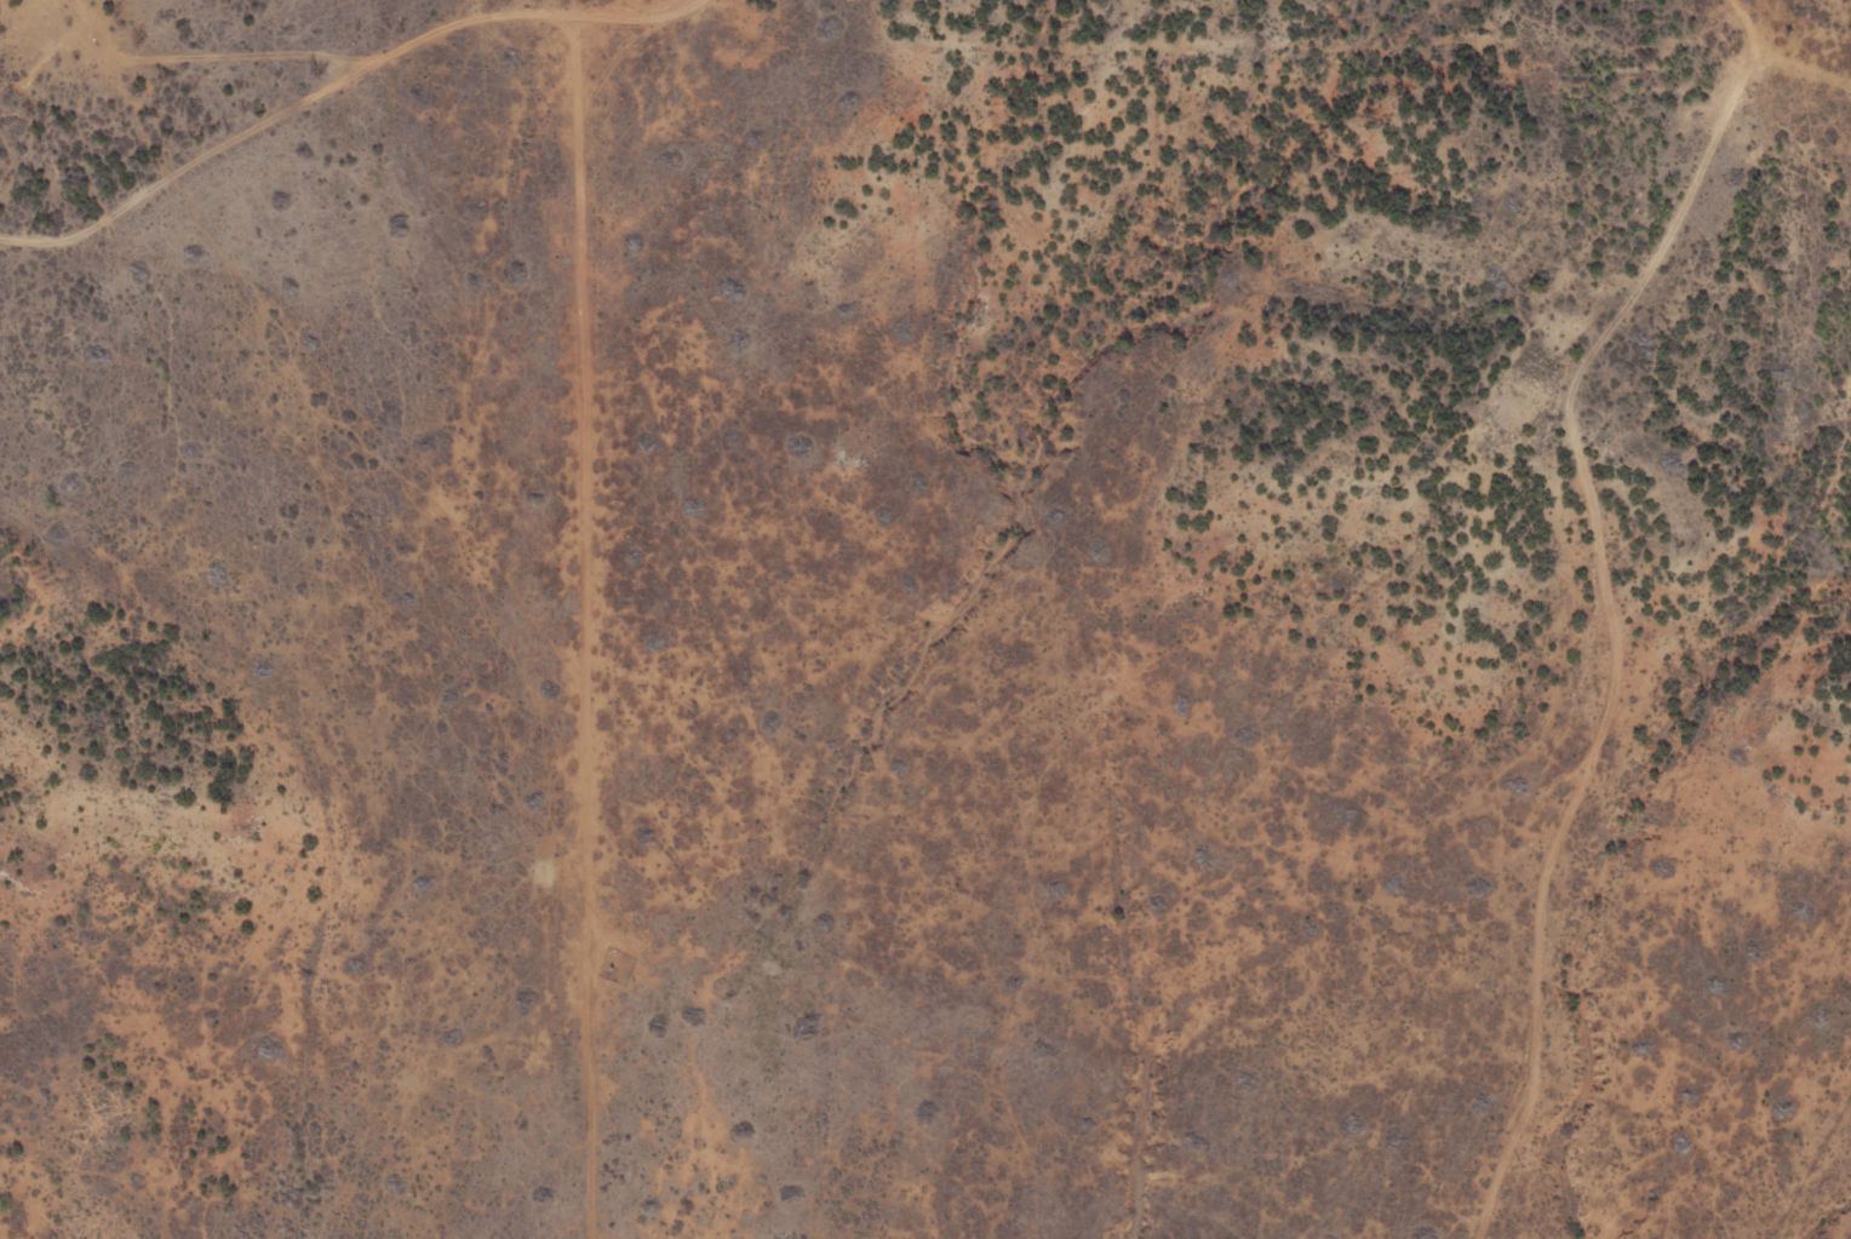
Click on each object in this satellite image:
road: (1790, 33)
road: (321, 108)
road: (1570, 610)

